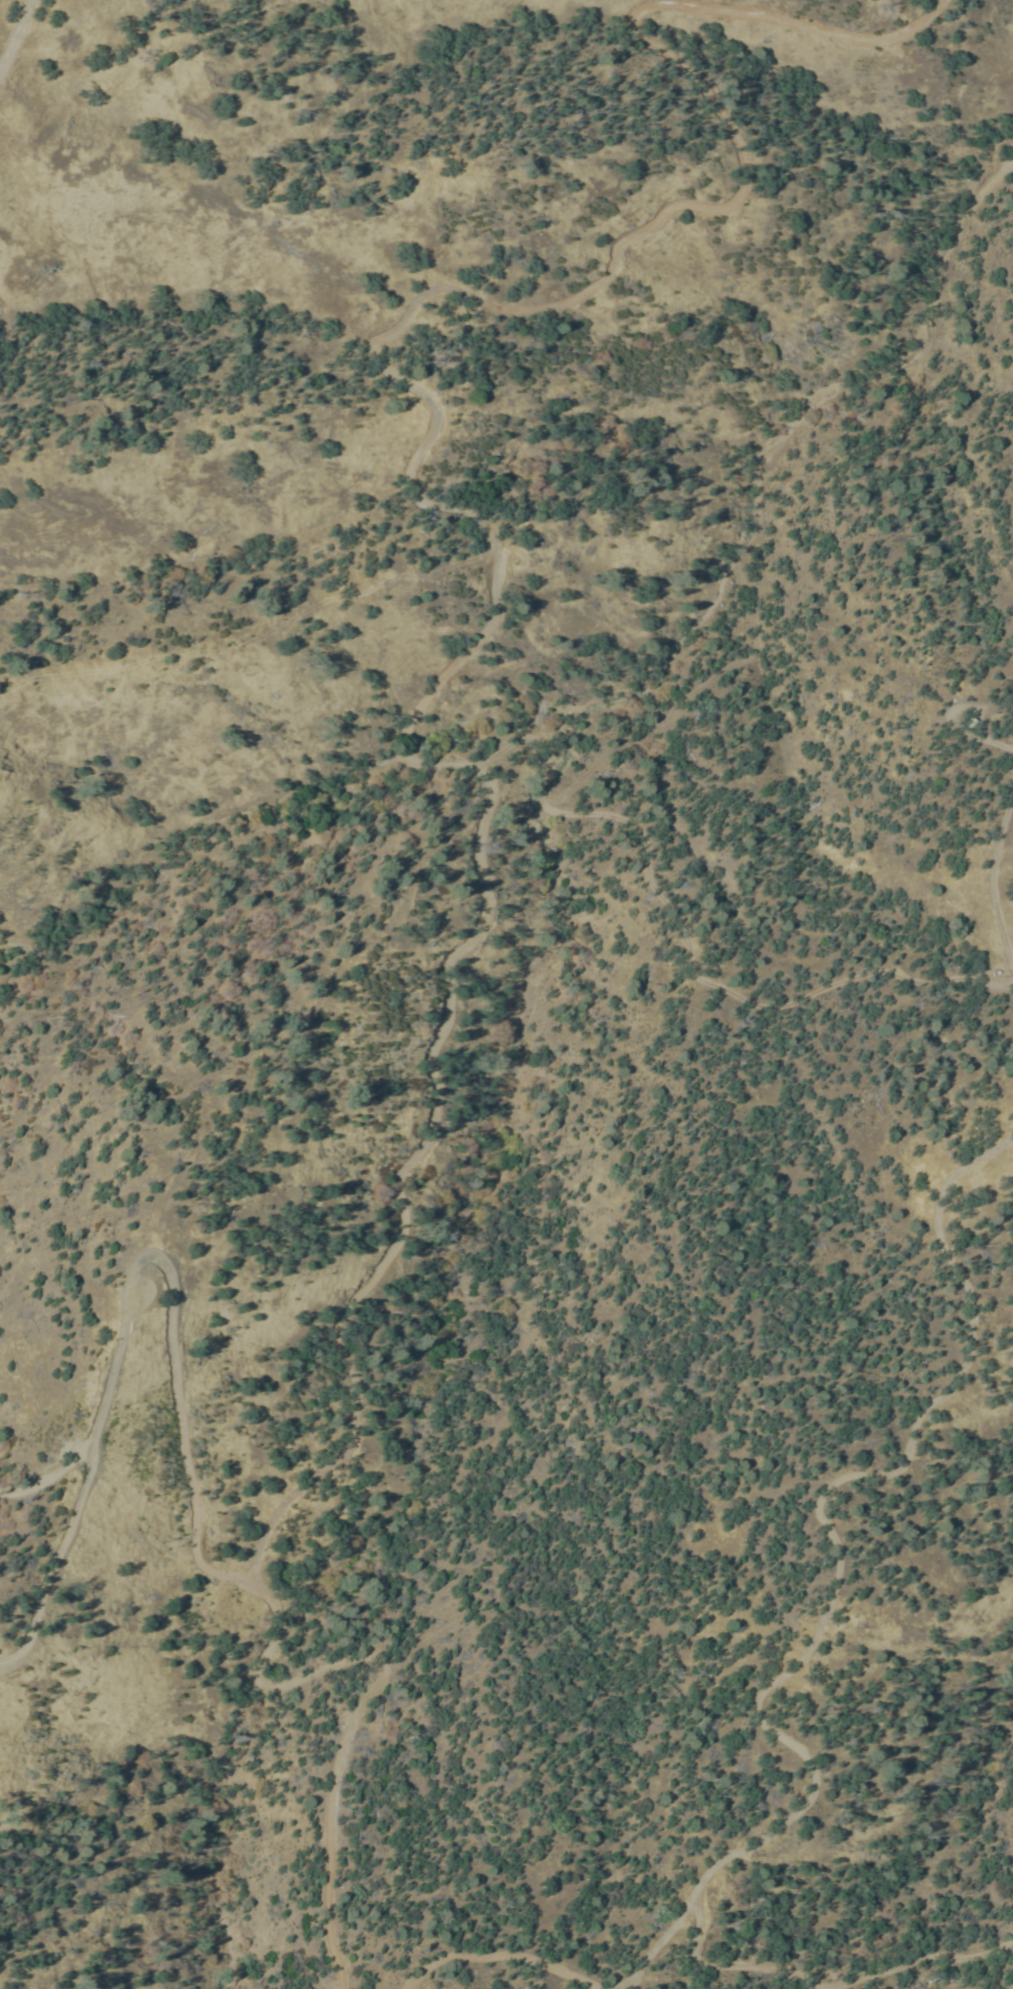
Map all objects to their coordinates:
road: (13, 37)
road: (683, 61)
road: (1000, 749)
road: (994, 874)
road: (695, 1948)
road: (857, 1978)

